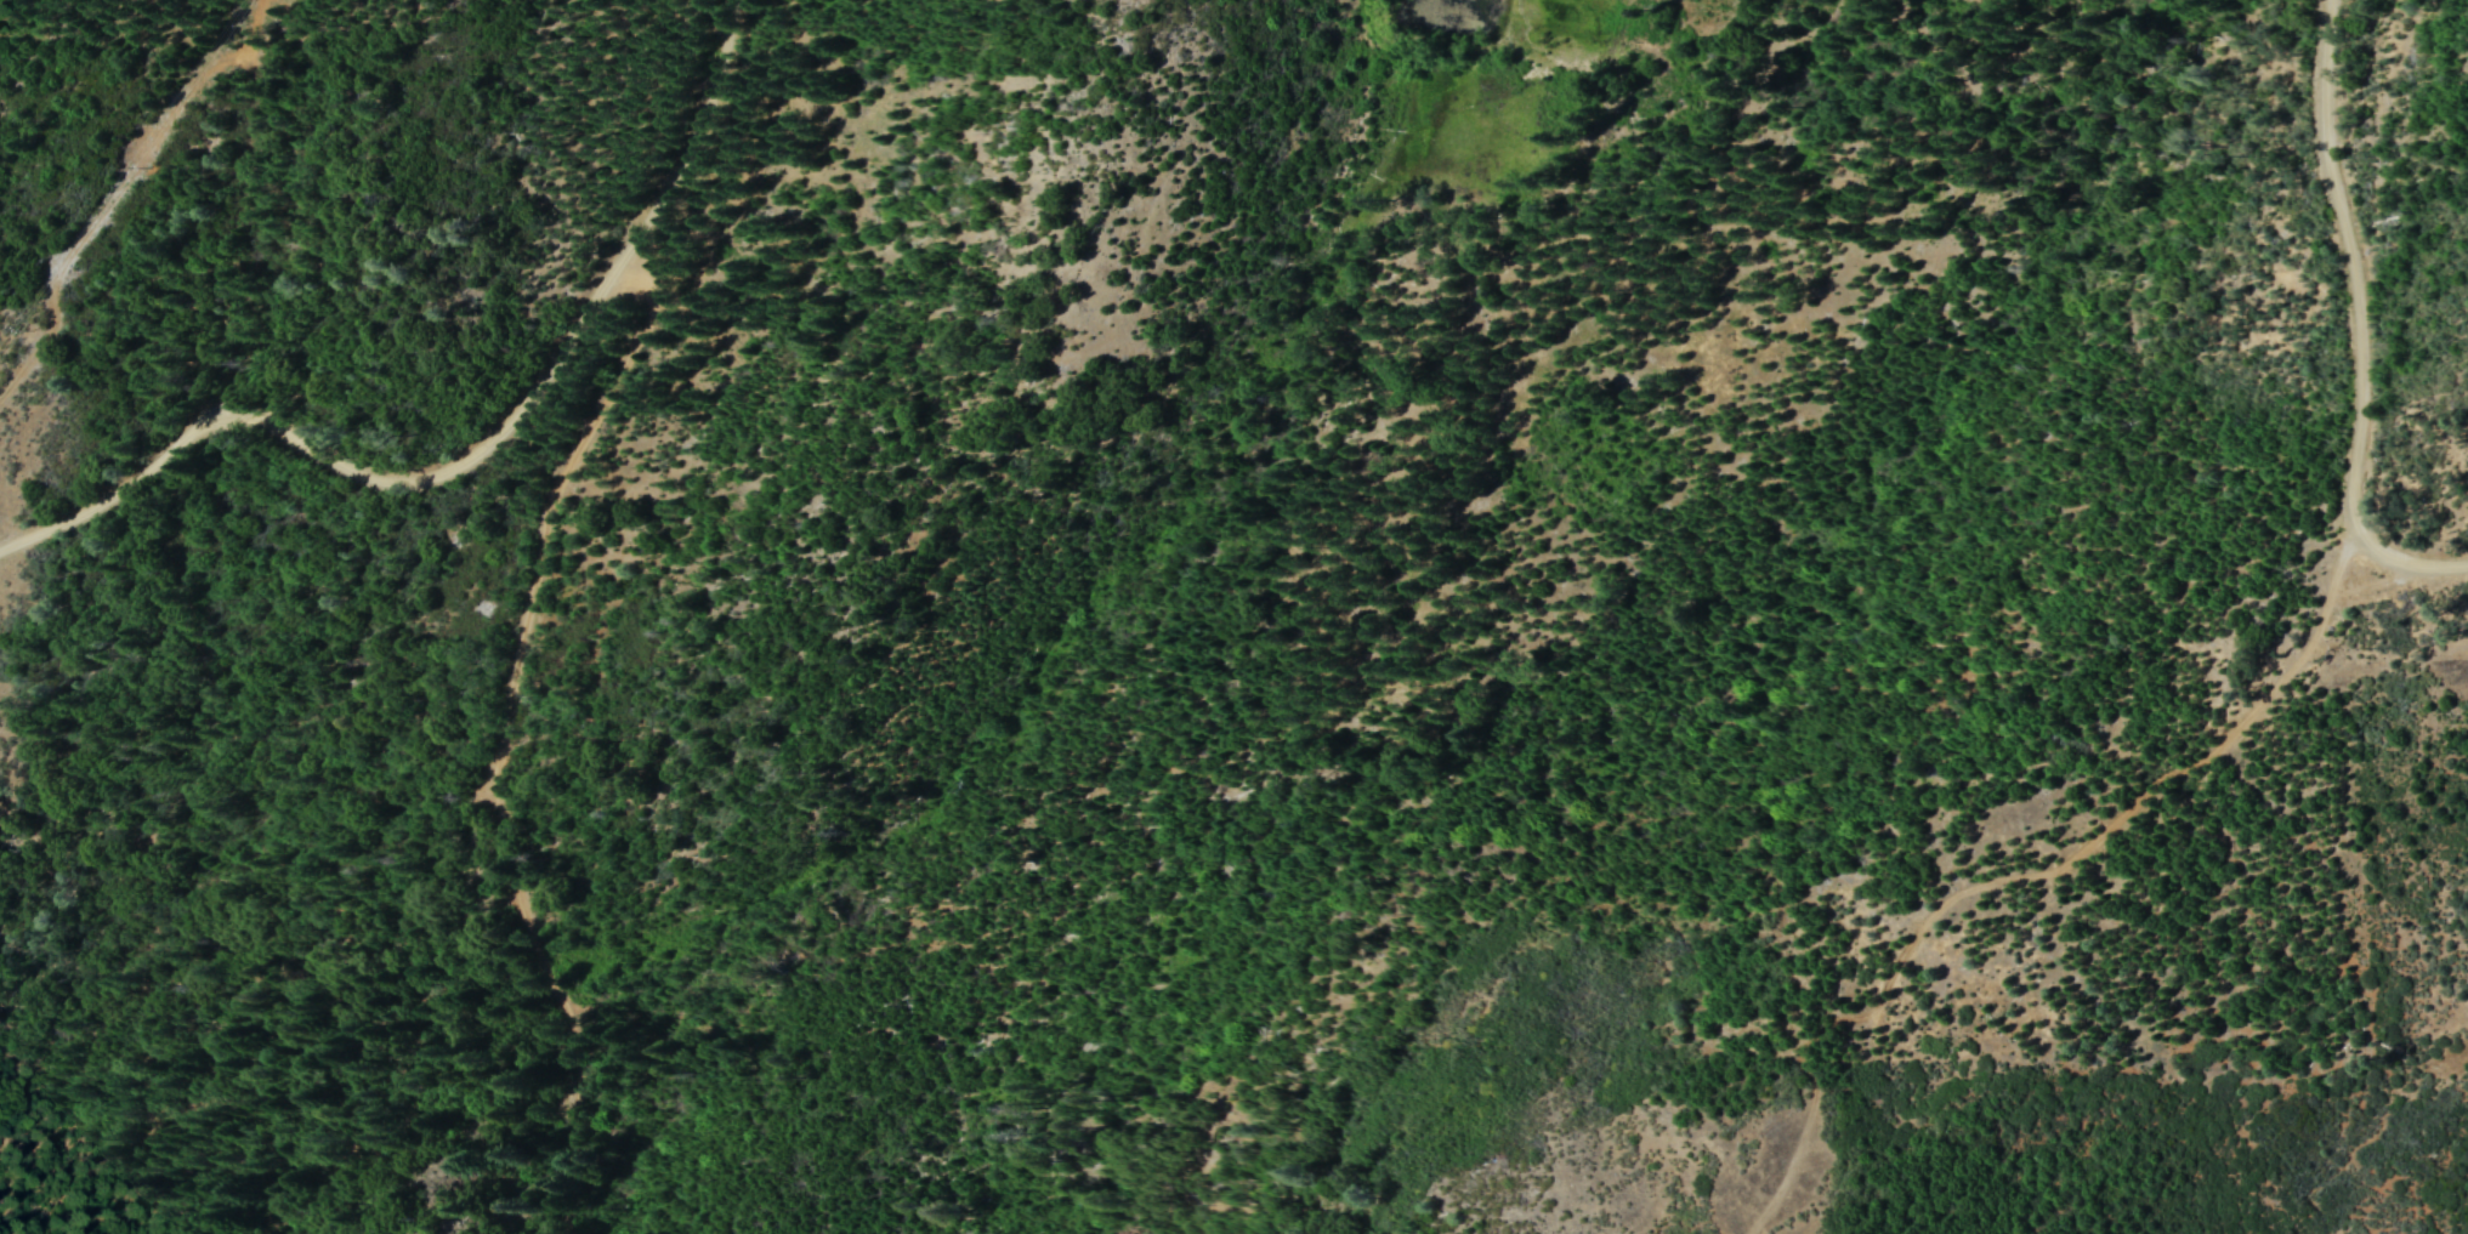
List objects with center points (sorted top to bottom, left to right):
road: (2350, 330)
road: (471, 454)

